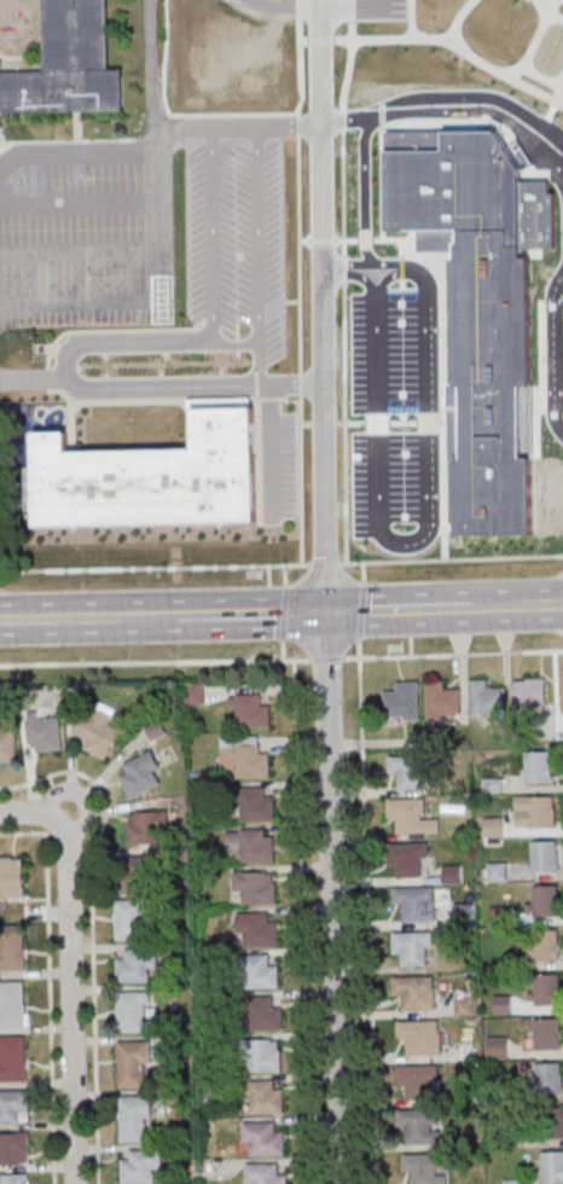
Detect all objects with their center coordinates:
road: (354, 7)
parking lot: (379, 8)
road: (546, 8)
road: (288, 10)
road: (350, 10)
road: (411, 18)
road: (457, 18)
road: (556, 18)
road: (315, 40)
road: (454, 45)
park: (445, 54)
road: (526, 59)
road: (152, 63)
building: (68, 64)
road: (515, 68)
road: (457, 110)
road: (550, 111)
road: (175, 112)
road: (239, 126)
road: (437, 127)
road: (87, 151)
road: (382, 169)
road: (365, 188)
road: (81, 201)
road: (213, 232)
parking lot: (86, 233)
parking lot: (237, 239)
road: (304, 239)
road: (321, 239)
road: (394, 239)
road: (81, 251)
road: (257, 255)
road: (367, 263)
road: (388, 275)
road: (300, 282)
road: (344, 291)
road: (145, 292)
building: (478, 307)
road: (151, 339)
road: (555, 352)
road: (541, 356)
road: (34, 375)
road: (192, 385)
road: (442, 387)
road: (271, 397)
road: (291, 401)
parking lot: (395, 418)
road: (390, 422)
road: (323, 423)
road: (307, 424)
road: (271, 451)
parking lot: (279, 466)
building: (152, 476)
road: (449, 527)
road: (391, 539)
road: (452, 558)
road: (325, 563)
road: (155, 567)
road: (364, 573)
road: (284, 574)
road: (325, 592)
road: (544, 603)
road: (499, 604)
road: (399, 606)
traffic signals: (325, 610)
road: (360, 610)
road: (250, 611)
road: (283, 611)
road: (150, 615)
road: (62, 616)
road: (283, 649)
road: (453, 654)
road: (326, 658)
road: (155, 661)
road: (556, 684)
building: (195, 692)
building: (530, 693)
building: (442, 700)
building: (488, 700)
building: (404, 701)
building: (251, 712)
building: (97, 731)
building: (46, 733)
building: (7, 743)
building: (244, 756)
building: (538, 767)
building: (411, 772)
building: (143, 774)
road: (82, 797)
building: (259, 805)
building: (535, 812)
building: (412, 816)
building: (147, 826)
building: (493, 828)
building: (255, 845)
building: (545, 857)
building: (407, 859)
building: (498, 871)
building: (140, 872)
building: (12, 878)
building: (256, 886)
building: (545, 900)
building: (416, 904)
road: (368, 911)
building: (129, 919)
road: (302, 921)
road: (92, 928)
building: (259, 928)
building: (544, 945)
building: (412, 948)
building: (12, 950)
building: (137, 964)
building: (261, 971)
road: (70, 973)
road: (48, 985)
building: (545, 989)
building: (414, 992)
building: (468, 1003)
building: (12, 1005)
building: (501, 1005)
building: (133, 1011)
building: (266, 1014)
building: (547, 1033)
building: (420, 1037)
building: (497, 1047)
building: (469, 1050)
building: (266, 1055)
building: (12, 1060)
building: (133, 1063)
building: (550, 1078)
building: (416, 1081)
building: (265, 1096)
building: (13, 1108)
building: (135, 1120)
building: (551, 1122)
building: (418, 1126)
building: (262, 1138)
building: (16, 1149)
building: (141, 1166)
building: (552, 1166)
building: (425, 1167)
building: (263, 1174)
building: (16, 1179)

